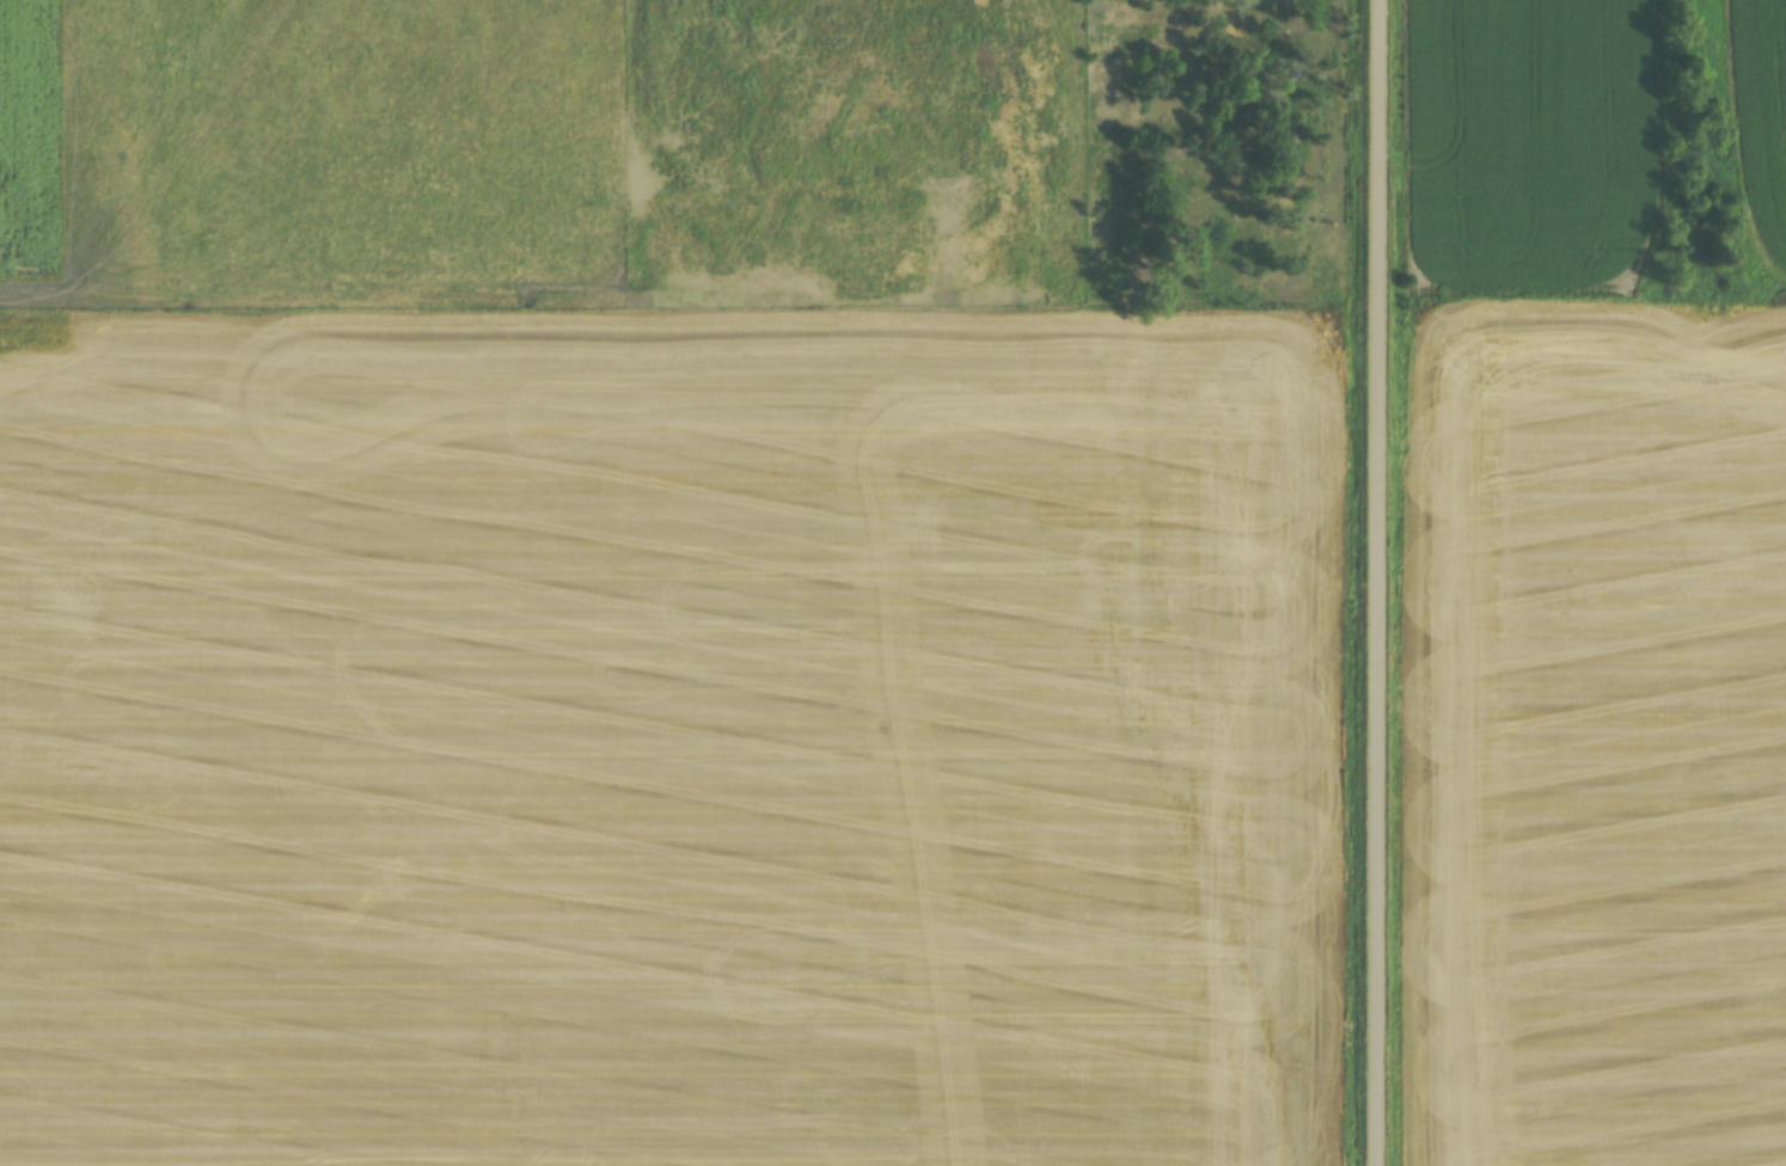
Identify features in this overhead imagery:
road: (1370, 582)

